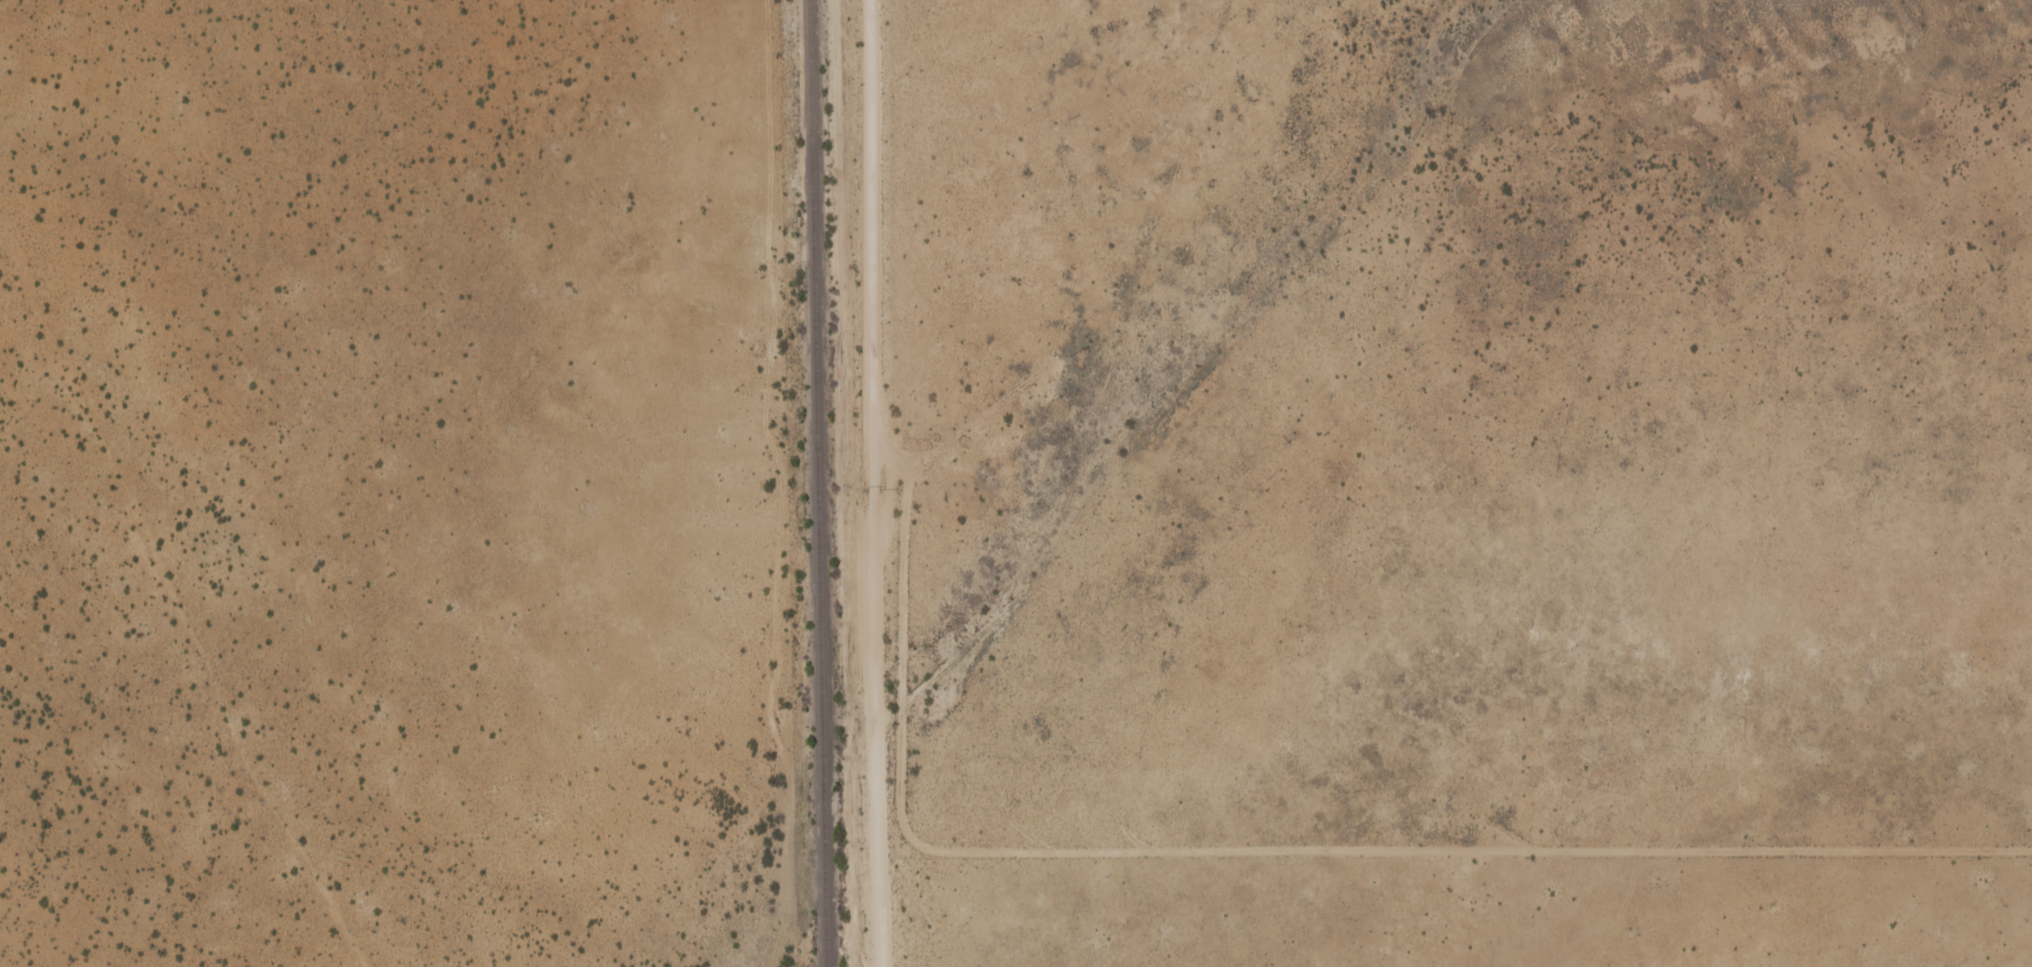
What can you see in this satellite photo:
railway: (819, 483)
road: (876, 483)
road: (176, 629)

